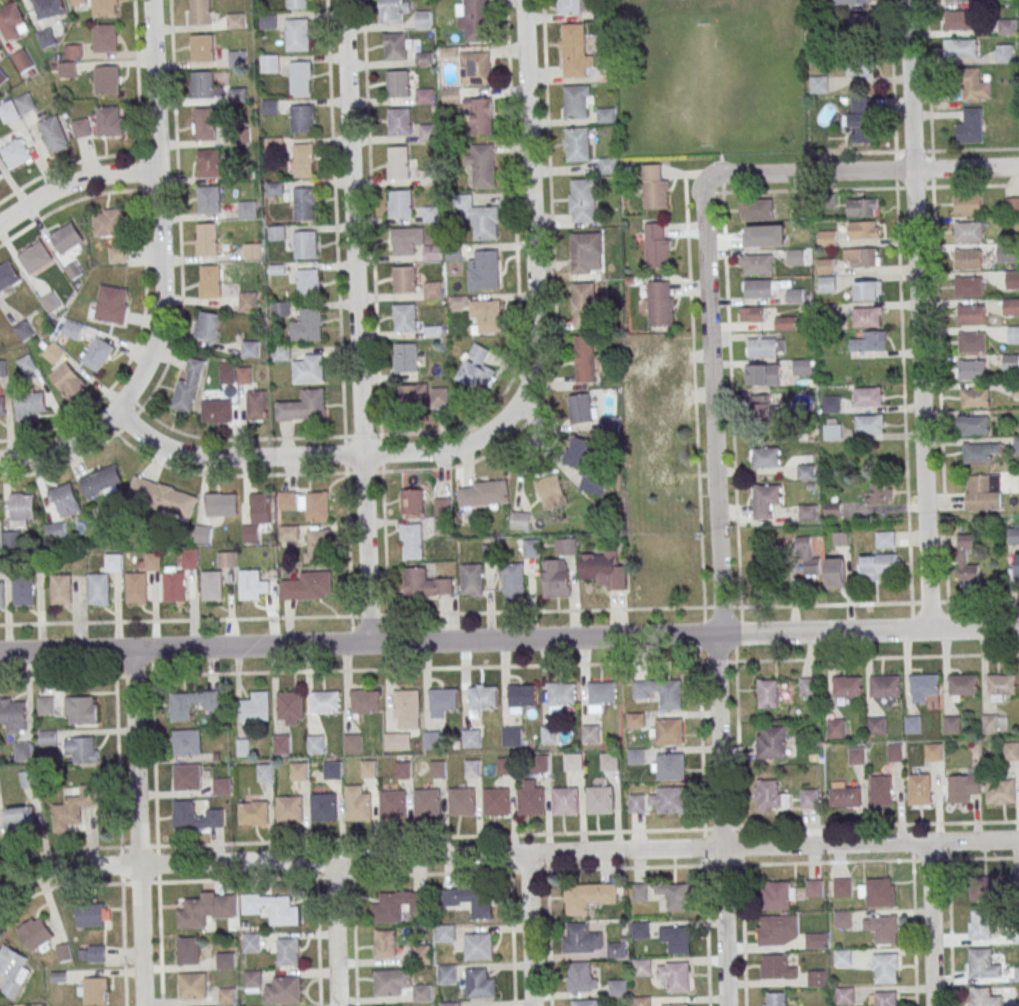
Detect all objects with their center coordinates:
building: (958, 0)
building: (78, 2)
building: (854, 2)
building: (296, 4)
building: (573, 7)
building: (48, 8)
building: (104, 8)
building: (394, 10)
building: (200, 12)
building: (474, 18)
building: (423, 19)
building: (958, 20)
building: (12, 21)
building: (235, 21)
building: (268, 22)
building: (858, 23)
building: (1006, 27)
building: (298, 34)
building: (46, 38)
building: (105, 38)
building: (398, 46)
building: (202, 47)
building: (961, 47)
building: (573, 51)
building: (72, 52)
building: (1003, 53)
building: (22, 61)
building: (270, 63)
building: (475, 68)
building: (860, 68)
building: (66, 70)
building: (2, 77)
building: (301, 77)
building: (106, 79)
building: (398, 84)
building: (818, 84)
building: (205, 85)
building: (976, 86)
building: (237, 95)
building: (425, 96)
building: (450, 96)
building: (577, 102)
building: (17, 107)
building: (271, 107)
building: (480, 116)
building: (303, 119)
building: (109, 121)
building: (861, 121)
building: (400, 122)
building: (204, 124)
building: (970, 126)
building: (80, 128)
building: (427, 132)
building: (53, 134)
building: (576, 144)
road: (177, 145)
road: (851, 152)
building: (16, 154)
building: (304, 160)
building: (399, 162)
building: (208, 163)
building: (482, 165)
building: (608, 166)
road: (895, 169)
road: (861, 171)
building: (0, 175)
building: (428, 177)
road: (75, 181)
building: (654, 187)
road: (809, 190)
building: (209, 200)
building: (585, 200)
building: (401, 203)
building: (967, 203)
building: (304, 204)
building: (862, 207)
building: (247, 209)
building: (755, 209)
road: (161, 210)
road: (531, 211)
building: (431, 214)
building: (483, 220)
building: (107, 223)
building: (863, 229)
building: (277, 232)
building: (968, 232)
road: (373, 235)
building: (66, 238)
building: (748, 238)
building: (827, 238)
building: (206, 239)
building: (405, 240)
building: (305, 244)
building: (657, 246)
building: (253, 251)
building: (433, 253)
building: (584, 253)
building: (1007, 253)
building: (117, 254)
building: (35, 257)
building: (861, 257)
building: (968, 259)
building: (754, 264)
building: (484, 271)
building: (7, 276)
building: (405, 279)
building: (1012, 280)
building: (210, 282)
building: (308, 282)
building: (968, 286)
building: (758, 288)
building: (433, 290)
building: (868, 290)
building: (248, 301)
road: (936, 301)
building: (50, 302)
building: (458, 302)
building: (110, 304)
building: (660, 304)
building: (584, 305)
road: (340, 314)
building: (751, 314)
road: (917, 314)
building: (971, 314)
building: (485, 316)
building: (867, 317)
building: (405, 318)
road: (358, 321)
building: (785, 323)
building: (207, 326)
building: (307, 326)
building: (23, 330)
building: (72, 330)
building: (1013, 334)
building: (869, 342)
building: (971, 342)
building: (762, 347)
building: (250, 349)
building: (281, 353)
building: (53, 354)
building: (97, 354)
building: (405, 358)
building: (584, 358)
building: (1010, 362)
building: (26, 364)
building: (802, 367)
building: (3, 369)
building: (307, 369)
building: (476, 369)
building: (971, 369)
building: (226, 373)
building: (244, 375)
building: (764, 375)
building: (67, 380)
parking lot: (658, 381)
building: (187, 384)
road: (694, 392)
building: (413, 394)
road: (903, 395)
building: (439, 396)
building: (867, 396)
building: (974, 398)
road: (731, 399)
building: (831, 404)
building: (30, 405)
building: (256, 405)
building: (302, 406)
building: (764, 406)
building: (581, 408)
building: (2, 409)
building: (216, 411)
building: (610, 423)
building: (869, 423)
building: (972, 425)
building: (832, 429)
road: (61, 444)
building: (1016, 445)
building: (980, 451)
building: (658, 453)
road: (307, 455)
building: (765, 457)
road: (61, 465)
building: (586, 465)
building: (805, 472)
building: (101, 482)
building: (983, 492)
building: (483, 493)
building: (550, 493)
building: (878, 493)
building: (163, 495)
building: (64, 500)
building: (287, 500)
building: (765, 500)
building: (411, 501)
building: (220, 504)
building: (442, 504)
building: (317, 506)
building: (22, 507)
building: (807, 514)
building: (257, 516)
building: (521, 520)
building: (55, 530)
building: (289, 533)
building: (202, 534)
building: (1013, 534)
building: (10, 539)
building: (885, 539)
building: (412, 541)
building: (316, 546)
building: (565, 547)
building: (530, 548)
building: (807, 556)
building: (188, 559)
building: (226, 559)
building: (152, 561)
building: (113, 562)
building: (966, 562)
building: (4, 565)
building: (878, 565)
building: (1016, 565)
building: (603, 570)
building: (836, 572)
building: (556, 578)
building: (472, 579)
building: (513, 580)
building: (425, 584)
building: (253, 585)
building: (175, 586)
building: (212, 586)
building: (309, 586)
building: (137, 588)
building: (61, 589)
building: (99, 589)
building: (24, 590)
building: (2, 594)
road: (719, 594)
road: (509, 612)
road: (509, 639)
road: (585, 664)
road: (75, 677)
building: (924, 684)
building: (963, 684)
building: (885, 685)
building: (1002, 685)
building: (807, 686)
building: (845, 689)
building: (767, 693)
building: (670, 695)
building: (560, 696)
building: (600, 696)
building: (521, 697)
building: (481, 699)
building: (365, 701)
building: (442, 701)
building: (325, 702)
building: (191, 703)
building: (46, 705)
building: (256, 707)
building: (290, 708)
building: (407, 709)
building: (81, 710)
building: (13, 715)
road: (736, 717)
building: (913, 724)
building: (951, 724)
building: (990, 724)
building: (876, 726)
building: (836, 728)
building: (669, 731)
building: (590, 734)
building: (548, 735)
building: (511, 736)
building: (48, 737)
building: (471, 738)
building: (432, 740)
building: (392, 741)
building: (187, 742)
building: (771, 742)
building: (353, 743)
building: (281, 744)
building: (316, 744)
building: (82, 749)
building: (23, 751)
building: (1011, 751)
building: (933, 752)
building: (895, 753)
building: (856, 755)
building: (636, 757)
road: (154, 761)
building: (608, 761)
building: (573, 762)
building: (539, 764)
building: (505, 766)
building: (668, 766)
building: (368, 769)
building: (437, 769)
building: (472, 769)
building: (331, 770)
building: (403, 770)
building: (299, 771)
building: (264, 772)
building: (188, 777)
building: (28, 778)
building: (222, 786)
building: (963, 786)
building: (919, 789)
building: (882, 790)
building: (1000, 792)
building: (770, 795)
building: (844, 797)
building: (809, 798)
building: (599, 800)
building: (670, 800)
building: (530, 801)
building: (564, 801)
building: (461, 802)
building: (496, 802)
building: (427, 803)
building: (636, 803)
building: (392, 804)
building: (323, 807)
building: (358, 807)
building: (74, 808)
building: (289, 809)
building: (253, 812)
building: (196, 817)
building: (21, 819)
road: (861, 824)
road: (136, 827)
road: (506, 853)
road: (879, 860)
road: (723, 865)
road: (158, 881)
building: (841, 887)
building: (987, 887)
building: (814, 888)
building: (640, 892)
building: (877, 892)
building: (777, 895)
building: (675, 896)
building: (587, 897)
building: (469, 900)
building: (387, 908)
building: (206, 909)
building: (280, 910)
building: (92, 916)
building: (842, 919)
road: (930, 924)
building: (980, 925)
road: (527, 929)
building: (886, 929)
building: (640, 930)
building: (777, 930)
road: (334, 932)
building: (445, 933)
building: (36, 934)
road: (743, 935)
building: (676, 938)
building: (581, 939)
building: (816, 940)
road: (354, 941)
building: (251, 942)
building: (385, 944)
building: (478, 946)
building: (616, 950)
building: (188, 951)
building: (64, 952)
building: (288, 952)
building: (92, 954)
building: (422, 954)
building: (842, 958)
building: (226, 960)
building: (981, 964)
building: (641, 967)
building: (777, 967)
building: (886, 968)
building: (12, 971)
building: (447, 974)
building: (580, 975)
building: (675, 976)
building: (817, 978)
building: (252, 980)
building: (392, 982)
building: (479, 983)
building: (193, 986)
building: (617, 987)
building: (284, 990)
building: (93, 991)
building: (227, 995)
building: (844, 996)
building: (984, 997)
building: (886, 998)
building: (775, 999)
building: (641, 1001)
building: (586, 1002)
building: (450, 1004)
building: (676, 1005)

